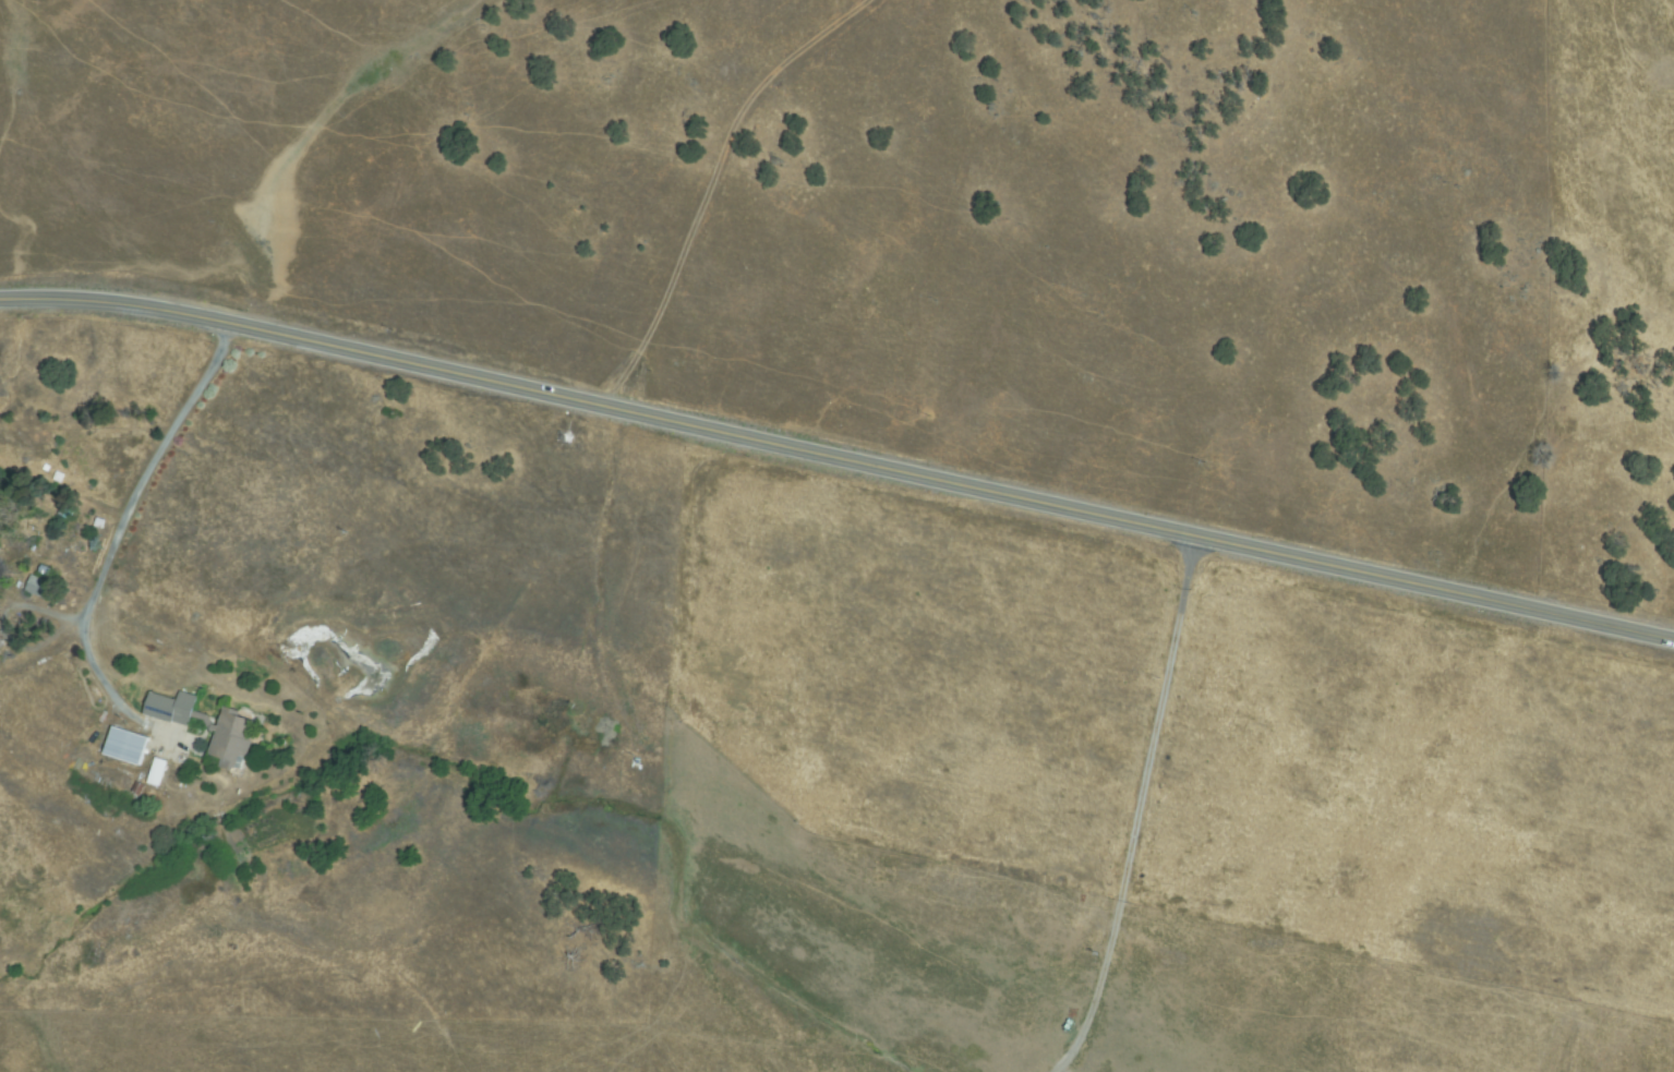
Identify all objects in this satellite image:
road: (721, 184)
road: (838, 455)
building: (59, 478)
road: (136, 516)
building: (99, 523)
building: (0, 549)
building: (39, 586)
road: (105, 674)
building: (233, 734)
building: (127, 746)
building: (157, 773)
building: (137, 790)
road: (1136, 806)

